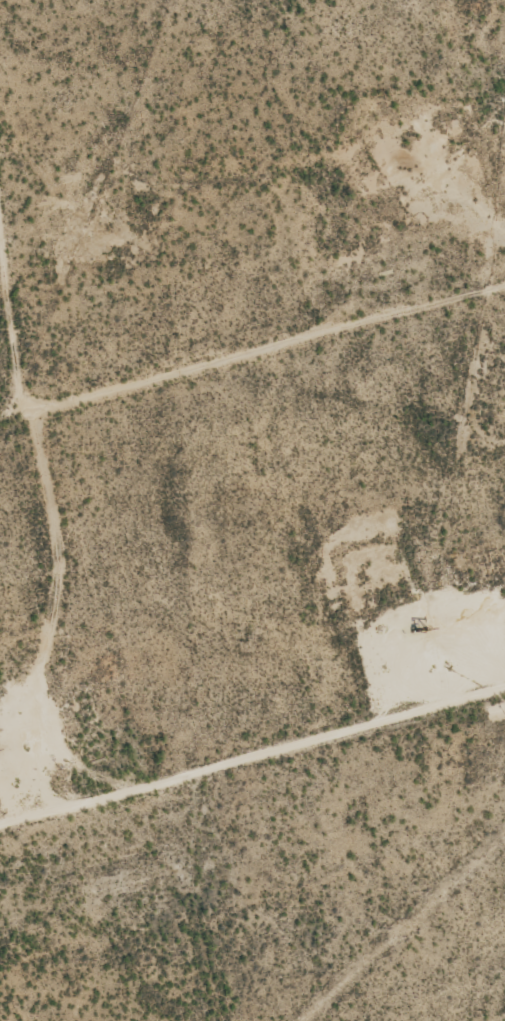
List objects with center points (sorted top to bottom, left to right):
road: (252, 783)

